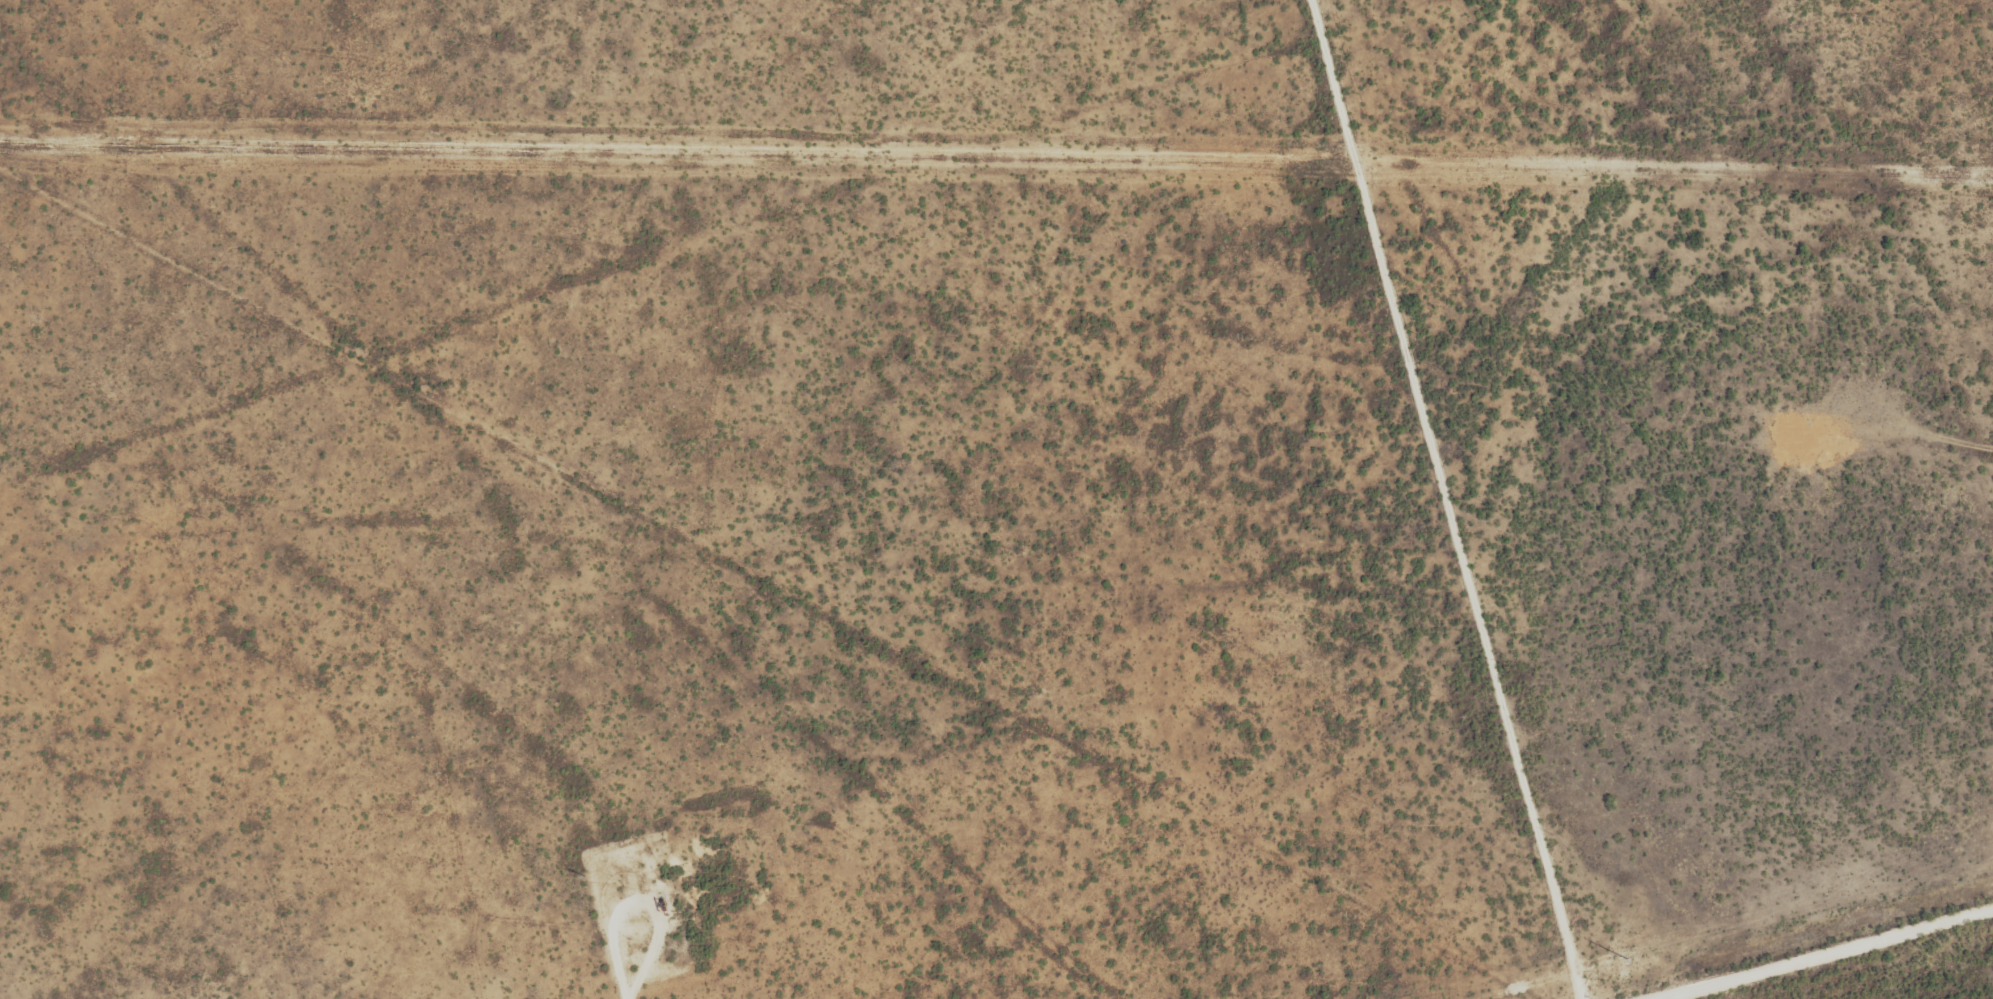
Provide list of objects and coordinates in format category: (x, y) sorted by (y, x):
road: (1829, 954)

